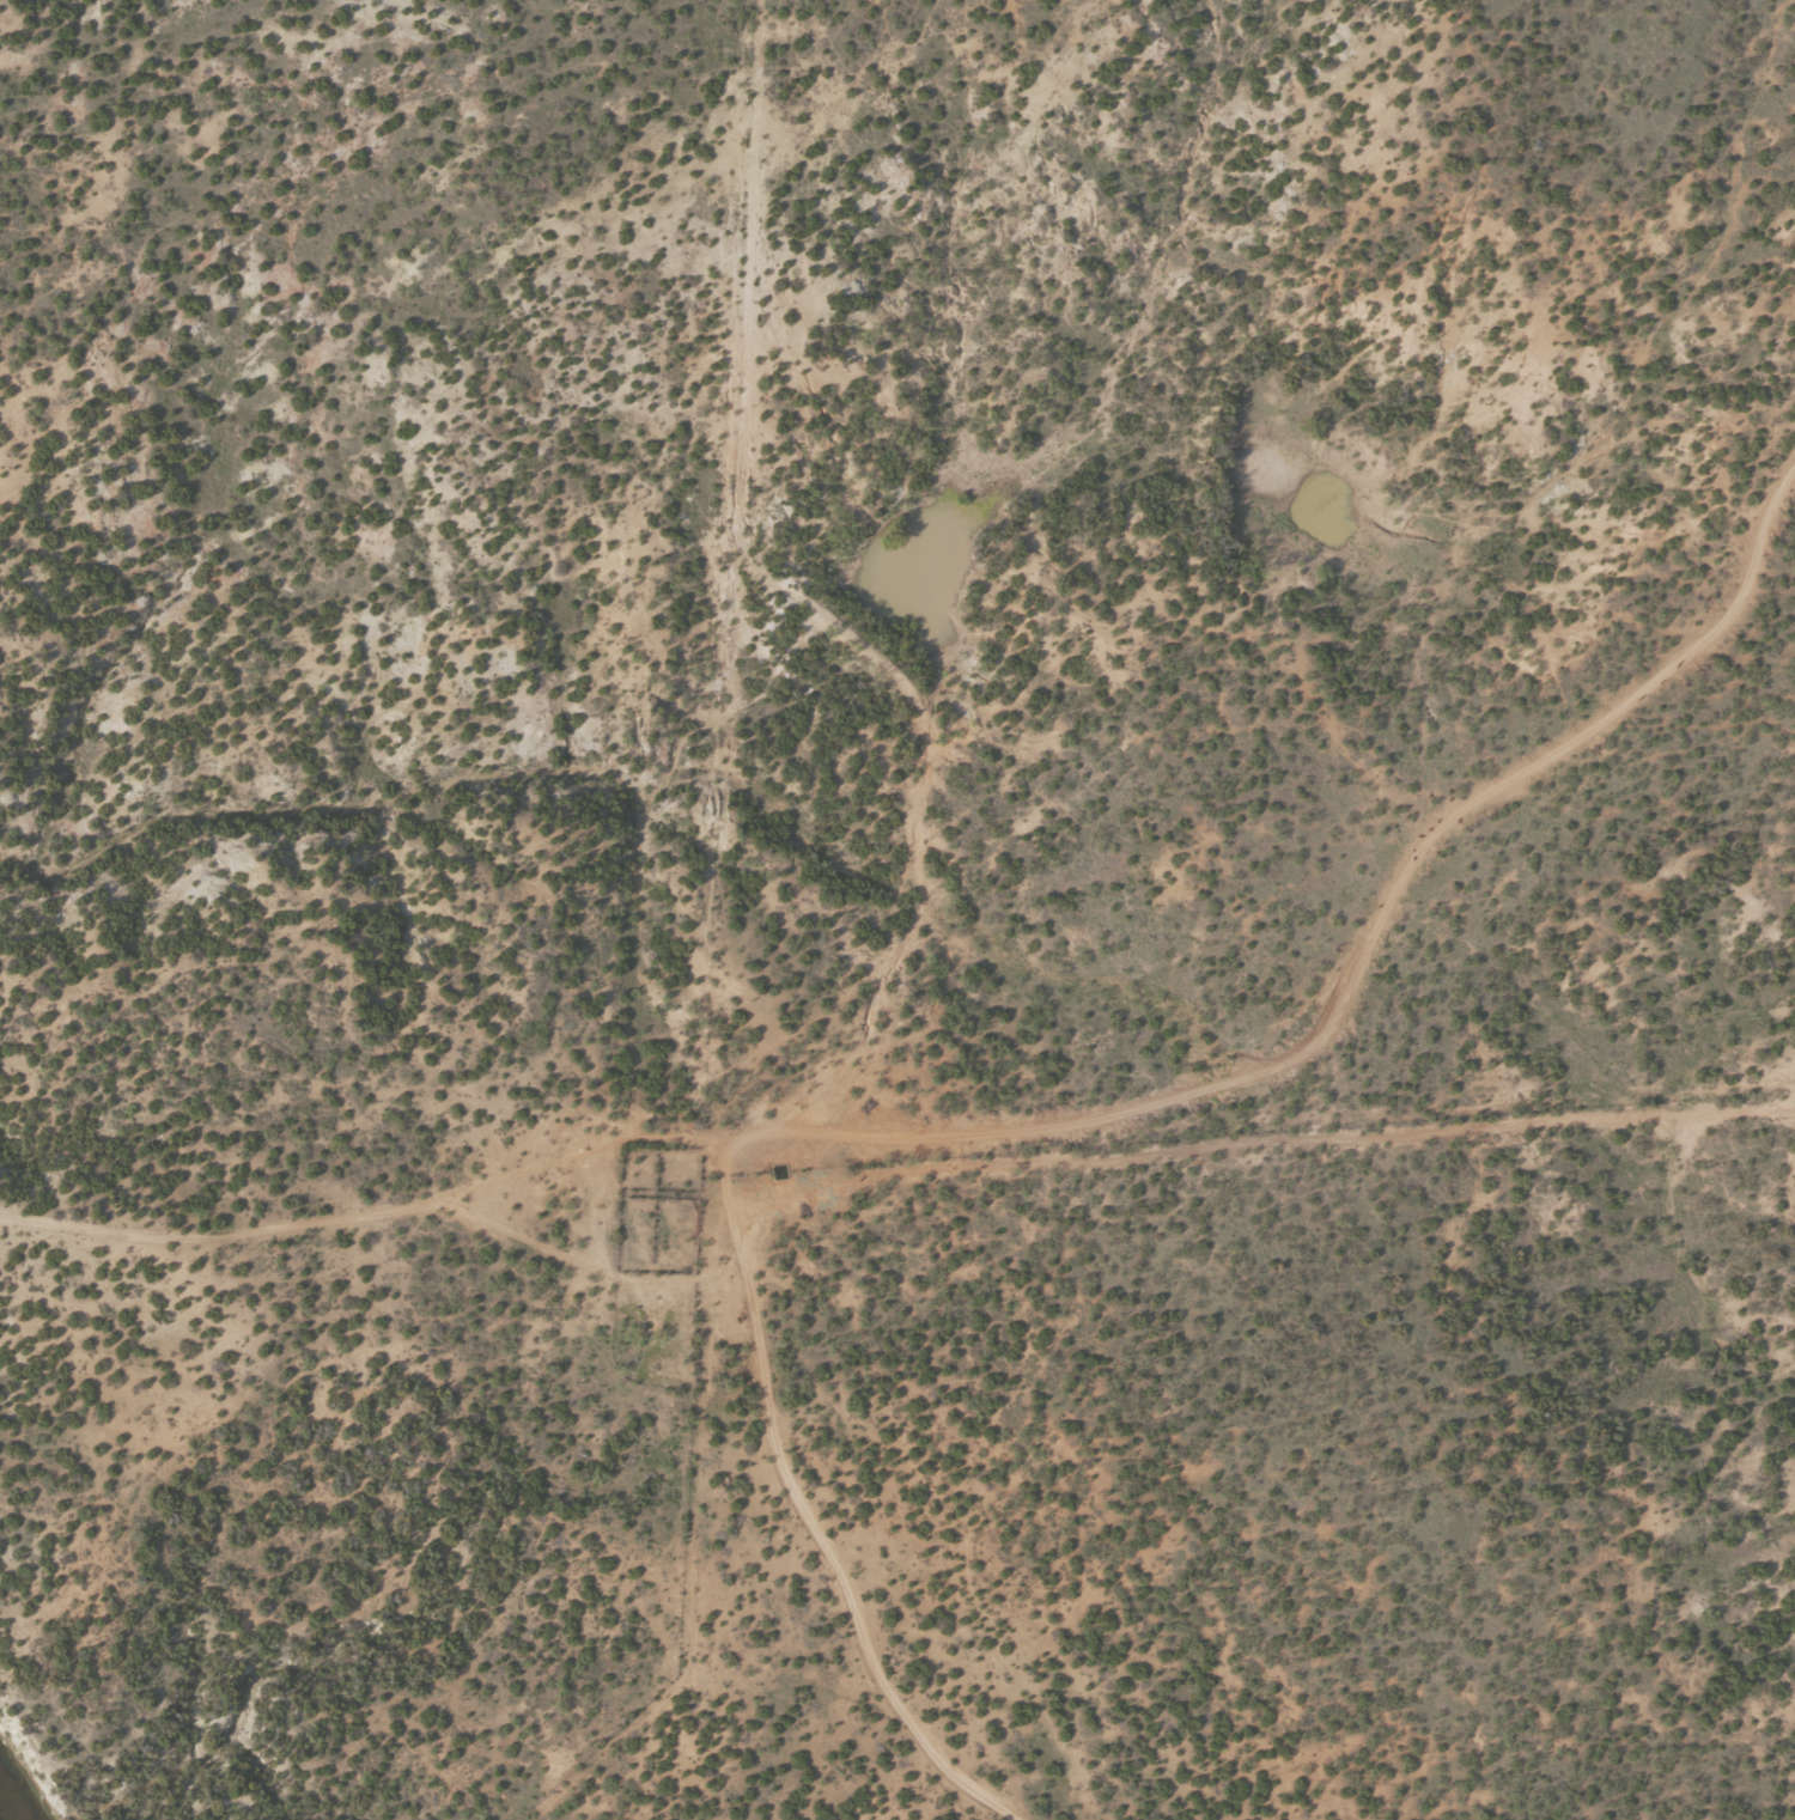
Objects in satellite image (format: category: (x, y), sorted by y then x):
road: (1008, 1085)
river: (14, 1798)

